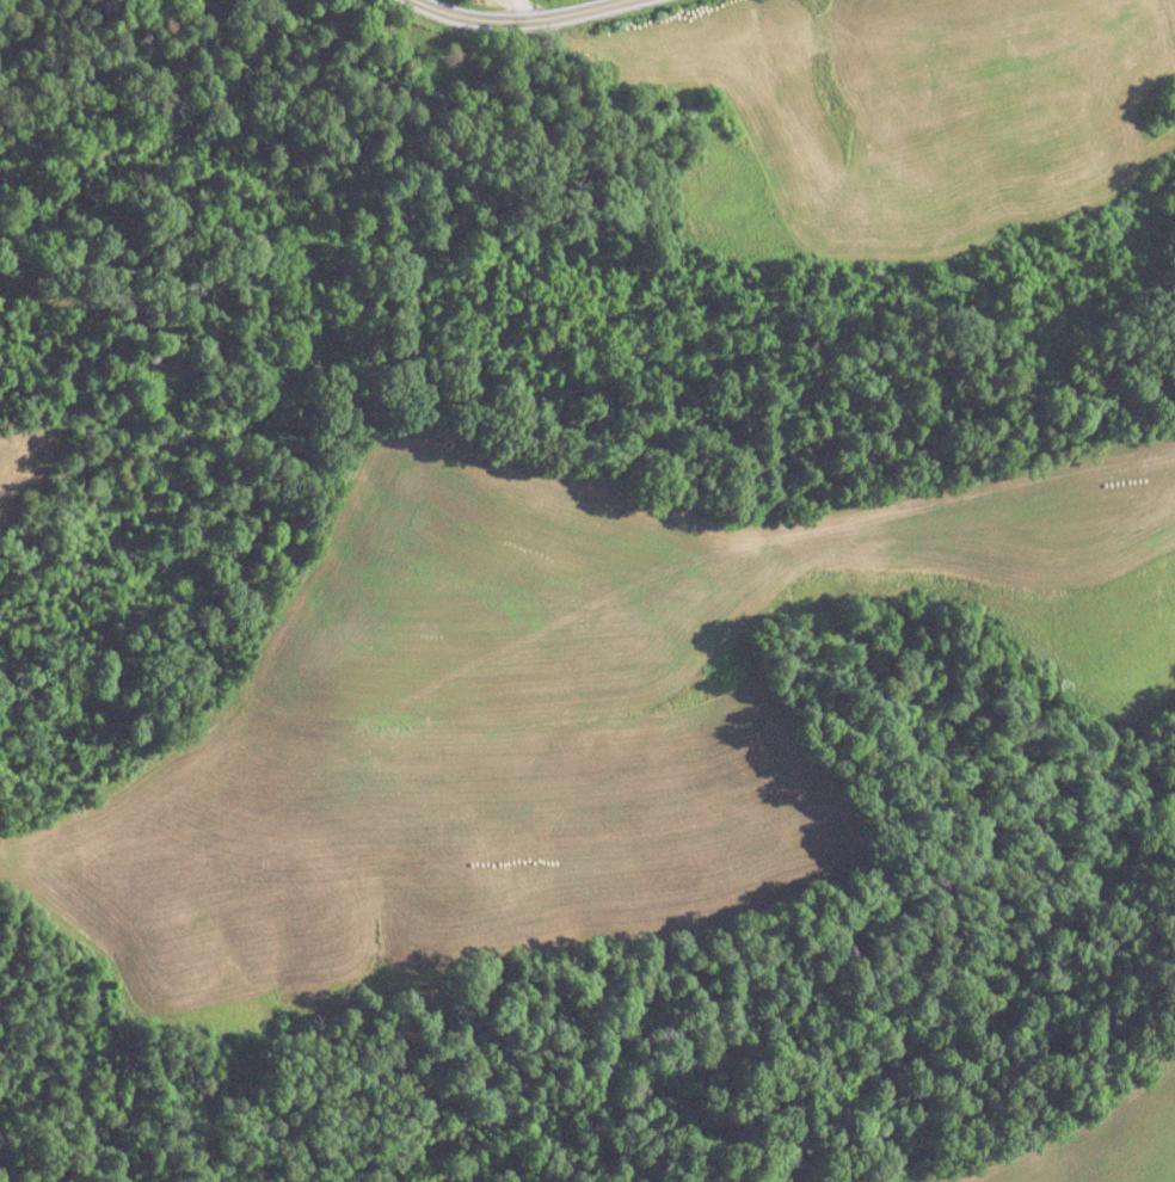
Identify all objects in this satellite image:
road: (519, 10)
road: (513, 20)

